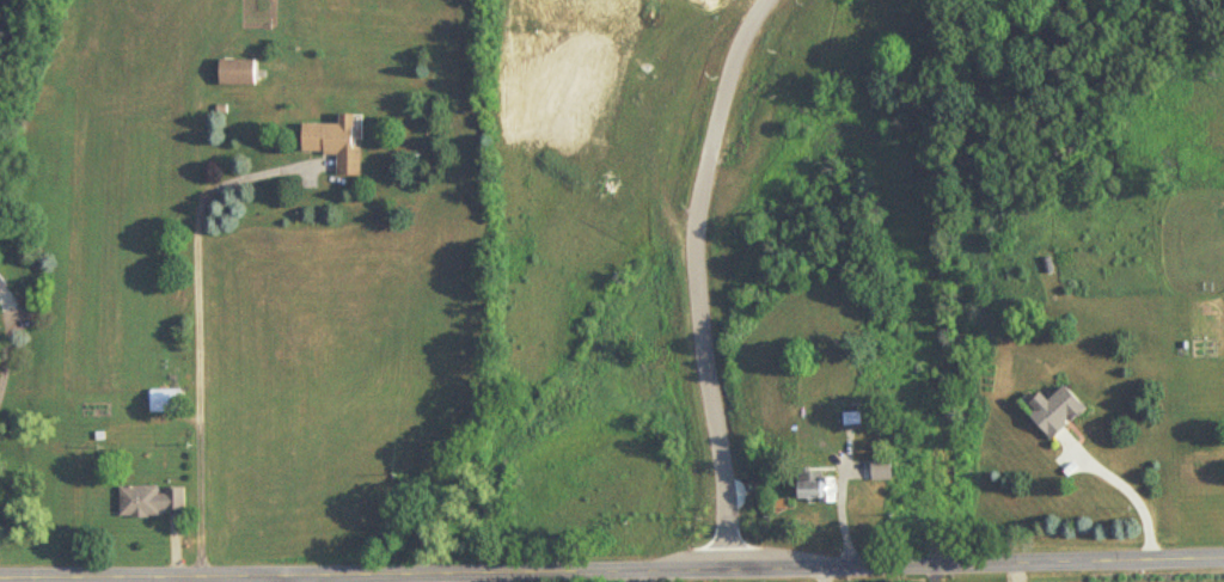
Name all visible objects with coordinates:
building: (238, 73)
building: (336, 145)
road: (705, 275)
building: (2, 286)
road: (198, 341)
road: (7, 344)
building: (166, 402)
building: (1057, 412)
building: (819, 491)
road: (1137, 500)
building: (153, 502)
road: (612, 569)
road: (447, 577)
road: (286, 578)

